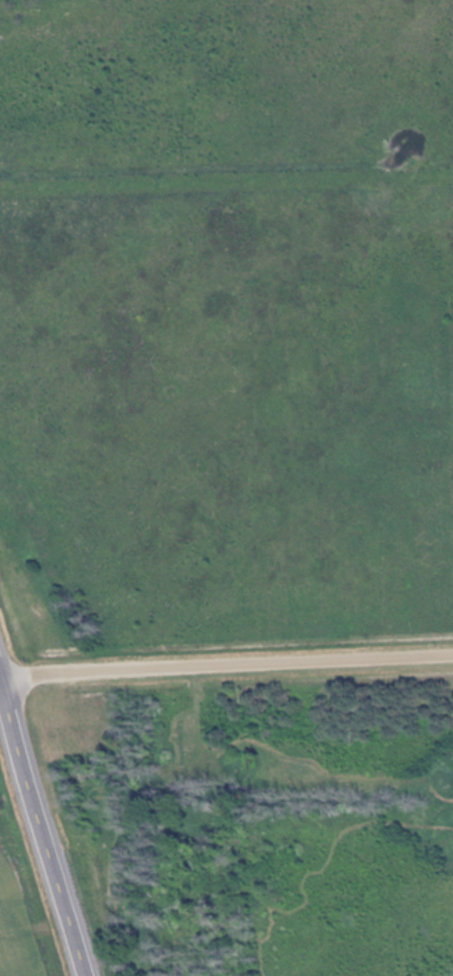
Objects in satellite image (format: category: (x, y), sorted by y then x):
road: (226, 661)
road: (43, 823)

